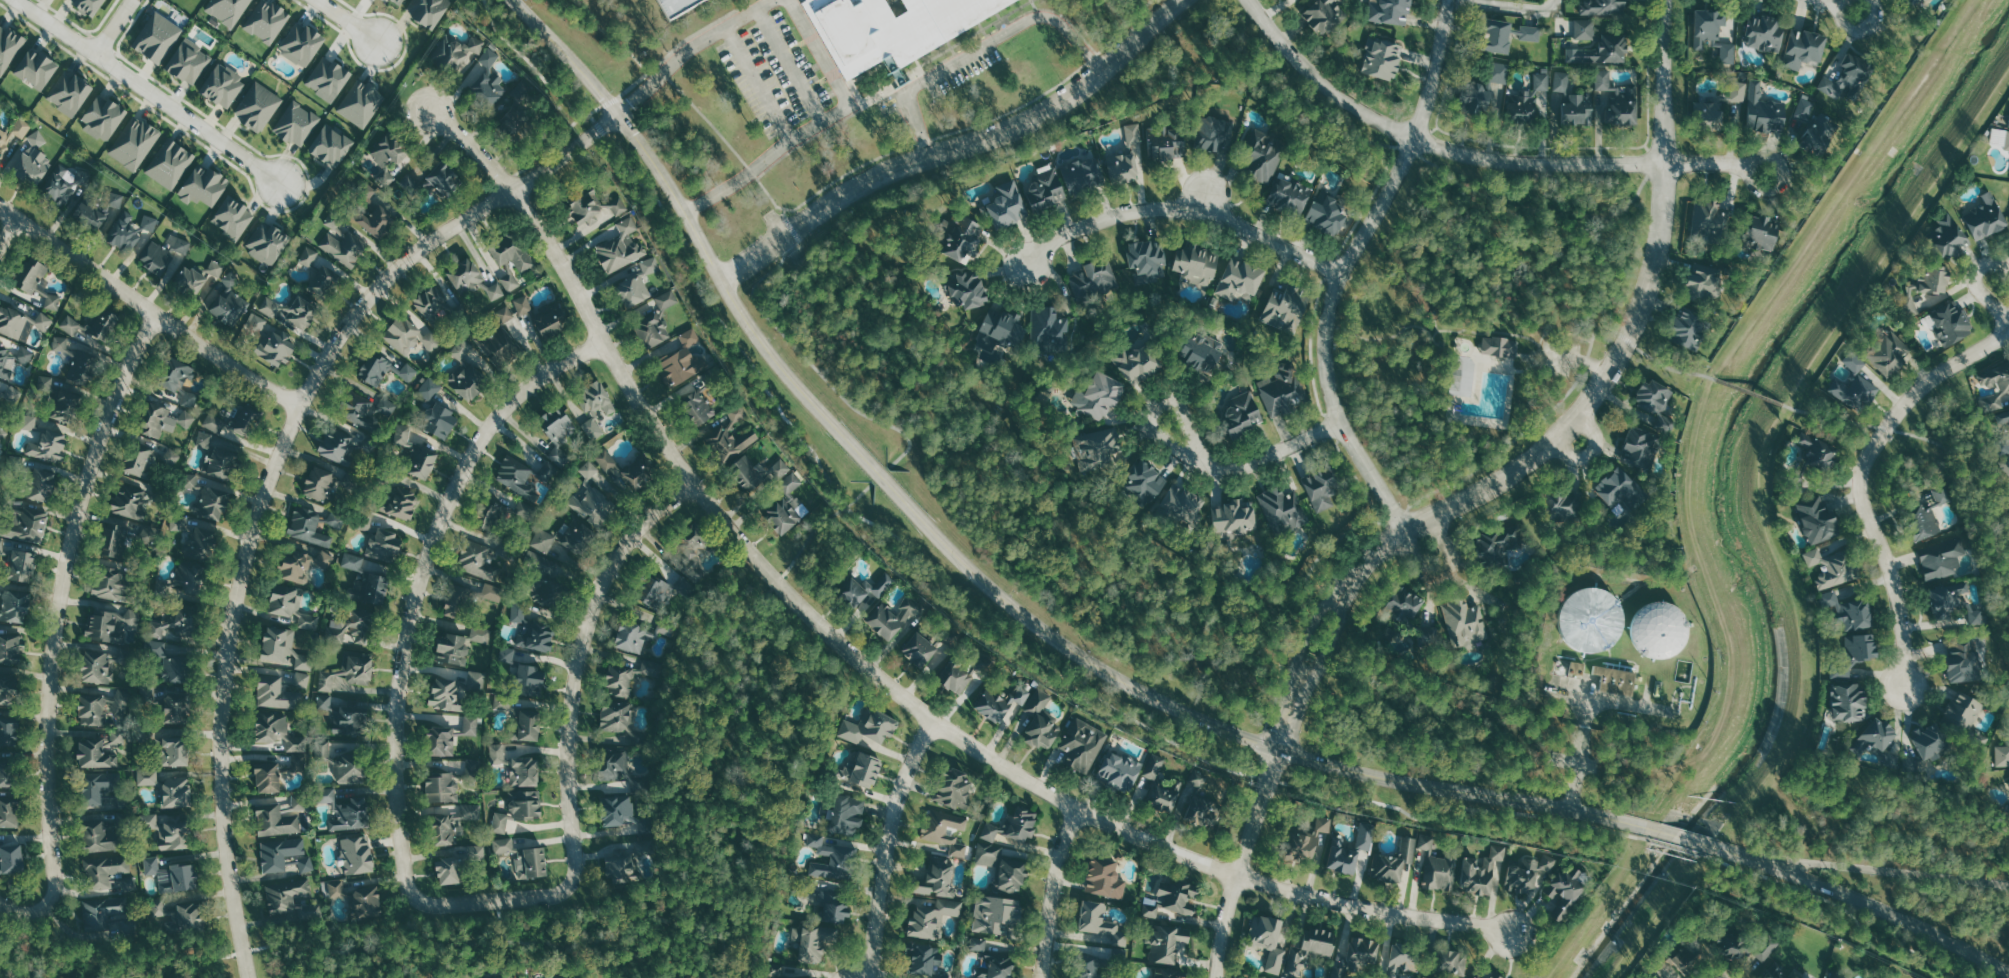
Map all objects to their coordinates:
building: (400, 1)
road: (1834, 2)
building: (88, 5)
building: (676, 6)
road: (1509, 6)
building: (1604, 7)
building: (229, 10)
building: (428, 11)
building: (1390, 11)
building: (1324, 14)
road: (346, 20)
building: (267, 21)
road: (114, 25)
building: (891, 27)
building: (1585, 29)
road: (1857, 31)
building: (1531, 33)
building: (1766, 33)
building: (1714, 34)
building: (1498, 36)
building: (157, 37)
building: (302, 44)
building: (8, 47)
road: (982, 48)
building: (1805, 48)
road: (690, 50)
building: (1602, 51)
building: (457, 52)
building: (1383, 59)
building: (189, 62)
building: (36, 69)
building: (1847, 76)
building: (329, 79)
building: (489, 81)
road: (763, 82)
road: (634, 83)
building: (223, 86)
building: (1487, 88)
road: (154, 91)
building: (1740, 91)
building: (70, 93)
road: (1315, 96)
building: (1530, 100)
building: (1618, 100)
road: (607, 101)
building: (1573, 101)
building: (362, 103)
building: (259, 106)
building: (1766, 111)
building: (1710, 114)
building: (103, 117)
building: (510, 120)
building: (297, 123)
road: (820, 123)
building: (2008, 123)
building: (1816, 124)
road: (599, 127)
building: (1134, 134)
building: (1211, 134)
building: (38, 138)
road: (555, 139)
building: (2006, 139)
building: (4, 141)
road: (1432, 141)
building: (135, 143)
building: (1169, 144)
building: (331, 146)
road: (958, 148)
building: (1262, 155)
building: (387, 159)
building: (171, 163)
road: (1706, 166)
building: (30, 168)
building: (1123, 168)
road: (838, 175)
building: (1084, 175)
building: (443, 179)
building: (63, 186)
building: (204, 186)
building: (366, 190)
building: (1046, 190)
road: (1762, 191)
building: (1291, 196)
road: (1205, 199)
building: (1006, 206)
road: (1184, 209)
building: (596, 210)
building: (98, 211)
road: (1376, 212)
building: (1327, 215)
building: (1984, 216)
building: (1709, 217)
building: (233, 218)
building: (376, 218)
building: (150, 223)
building: (1764, 230)
road: (9, 232)
building: (125, 232)
building: (962, 238)
building: (1946, 239)
building: (267, 242)
building: (179, 243)
building: (622, 247)
building: (345, 248)
building: (511, 251)
building: (158, 258)
building: (1147, 259)
building: (1196, 264)
building: (651, 265)
building: (216, 268)
building: (319, 272)
building: (465, 275)
building: (191, 279)
building: (511, 279)
building: (1095, 280)
road: (1977, 280)
building: (1241, 281)
building: (1704, 281)
building: (40, 286)
building: (1923, 288)
building: (967, 289)
building: (634, 290)
building: (495, 291)
building: (668, 299)
building: (431, 301)
building: (524, 304)
building: (229, 307)
road: (147, 308)
building: (1285, 308)
building: (293, 311)
building: (505, 313)
park: (1482, 313)
building: (550, 319)
building: (44, 321)
building: (13, 323)
building: (1949, 323)
building: (71, 324)
road: (722, 325)
building: (1689, 327)
building: (652, 329)
building: (1002, 329)
building: (1051, 330)
building: (409, 335)
building: (270, 340)
building: (497, 342)
building: (1500, 345)
road: (799, 347)
building: (1198, 350)
building: (1887, 350)
building: (25, 354)
road: (1618, 355)
building: (682, 359)
building: (76, 360)
building: (1138, 361)
building: (5, 364)
road: (1669, 367)
building: (383, 368)
building: (469, 370)
building: (179, 379)
building: (45, 382)
building: (1852, 387)
building: (2002, 387)
building: (430, 388)
building: (1284, 388)
road: (1750, 392)
building: (1099, 396)
building: (595, 397)
building: (1656, 400)
building: (65, 404)
building: (696, 404)
building: (365, 408)
building: (738, 412)
building: (1243, 413)
building: (187, 418)
building: (154, 419)
building: (246, 419)
building: (439, 420)
building: (29, 421)
building: (215, 422)
building: (594, 428)
building: (559, 430)
building: (3, 432)
building: (404, 434)
building: (2002, 434)
building: (205, 438)
building: (732, 442)
building: (340, 444)
building: (49, 445)
road: (1941, 445)
building: (1639, 446)
building: (1098, 447)
road: (1592, 454)
building: (173, 456)
building: (1812, 457)
building: (141, 460)
building: (223, 461)
building: (423, 461)
road: (1248, 464)
building: (2003, 464)
building: (780, 468)
building: (625, 472)
building: (747, 472)
road: (272, 474)
road: (1376, 476)
building: (518, 477)
road: (1862, 479)
building: (190, 480)
building: (1145, 480)
building: (40, 483)
building: (319, 483)
building: (1321, 486)
building: (1619, 487)
building: (131, 500)
building: (213, 503)
building: (403, 503)
building: (1562, 503)
building: (1184, 504)
building: (787, 505)
building: (587, 508)
building: (525, 509)
building: (1284, 509)
building: (488, 515)
building: (1924, 516)
building: (1234, 518)
building: (1816, 518)
building: (337, 519)
building: (366, 520)
building: (178, 522)
building: (27, 525)
building: (308, 526)
building: (149, 533)
building: (544, 539)
building: (113, 540)
building: (385, 544)
building: (1498, 544)
building: (1, 548)
building: (693, 553)
building: (1940, 555)
building: (194, 560)
building: (353, 560)
building: (478, 560)
building: (301, 564)
building: (22, 565)
building: (1829, 565)
road: (974, 571)
road: (1446, 573)
building: (543, 577)
building: (111, 582)
building: (864, 587)
building: (370, 589)
building: (653, 591)
building: (493, 592)
building: (285, 600)
building: (457, 600)
building: (1405, 601)
building: (1951, 603)
building: (14, 606)
building: (519, 612)
building: (1848, 612)
building: (892, 616)
building: (1592, 619)
building: (173, 620)
building: (309, 620)
building: (111, 622)
building: (1465, 622)
building: (352, 626)
road: (411, 627)
road: (54, 628)
building: (1661, 629)
building: (537, 635)
building: (639, 635)
road: (1305, 637)
building: (10, 643)
building: (283, 647)
building: (920, 648)
building: (452, 649)
road: (1328, 649)
building: (1856, 650)
building: (508, 654)
building: (1963, 659)
building: (170, 662)
road: (1036, 662)
road: (868, 664)
building: (96, 666)
building: (1578, 667)
building: (349, 672)
road: (742, 673)
building: (477, 675)
building: (628, 677)
building: (956, 677)
building: (1615, 678)
building: (303, 679)
building: (530, 679)
building: (8, 690)
building: (276, 693)
building: (1847, 701)
building: (325, 702)
building: (503, 702)
building: (997, 702)
building: (121, 704)
road: (573, 704)
building: (174, 708)
building: (92, 709)
building: (1963, 712)
building: (617, 715)
road: (1591, 718)
building: (350, 720)
building: (1042, 720)
building: (529, 724)
building: (472, 725)
building: (870, 727)
building: (2008, 728)
building: (278, 730)
building: (8, 731)
building: (119, 736)
building: (440, 740)
building: (1878, 740)
building: (1084, 743)
building: (1922, 746)
building: (498, 753)
building: (95, 754)
building: (2002, 754)
building: (342, 764)
building: (615, 765)
building: (1154, 766)
building: (866, 769)
building: (1120, 769)
building: (525, 771)
building: (6, 773)
building: (148, 776)
building: (267, 776)
road: (1269, 777)
building: (96, 787)
building: (442, 787)
building: (955, 788)
building: (177, 791)
building: (1167, 794)
building: (327, 795)
building: (1203, 801)
building: (300, 803)
building: (525, 803)
building: (616, 810)
building: (9, 811)
building: (473, 811)
building: (351, 813)
building: (847, 814)
road: (1463, 815)
building: (276, 820)
building: (500, 822)
building: (447, 829)
building: (167, 830)
building: (946, 830)
building: (1364, 835)
building: (99, 836)
road: (1680, 836)
building: (1305, 838)
road: (1248, 839)
building: (504, 844)
road: (1676, 846)
road: (885, 847)
building: (991, 850)
building: (280, 852)
building: (478, 852)
road: (1740, 853)
building: (358, 854)
building: (1340, 855)
building: (831, 858)
building: (11, 859)
building: (1392, 860)
building: (534, 863)
building: (306, 864)
building: (1437, 865)
building: (105, 869)
building: (623, 869)
building: (447, 870)
building: (1480, 870)
building: (1526, 871)
road: (1890, 872)
building: (173, 874)
building: (940, 878)
building: (1105, 878)
building: (1568, 882)
building: (813, 886)
building: (337, 888)
road: (1053, 892)
building: (1173, 897)
building: (290, 899)
building: (367, 901)
building: (834, 906)
building: (159, 907)
road: (1840, 907)
road: (1596, 908)
building: (105, 910)
road: (1655, 912)
road: (1892, 912)
building: (933, 918)
road: (499, 919)
building: (1101, 922)
building: (1268, 940)
road: (485, 941)
building: (814, 941)
building: (1168, 942)
building: (979, 943)
building: (1727, 943)
building: (1309, 948)
building: (1356, 955)
building: (1406, 955)
building: (924, 956)
building: (1676, 957)
road: (598, 958)
building: (1451, 960)
road: (434, 964)
building: (1093, 966)
building: (998, 967)
building: (781, 971)
building: (1775, 971)
building: (1170, 972)
building: (1837, 973)
road: (24, 974)
building: (1385, 974)
building: (492, 975)
building: (1477, 976)
building: (1490, 976)
building: (1500, 976)
building: (560, 977)
building: (1429, 977)

